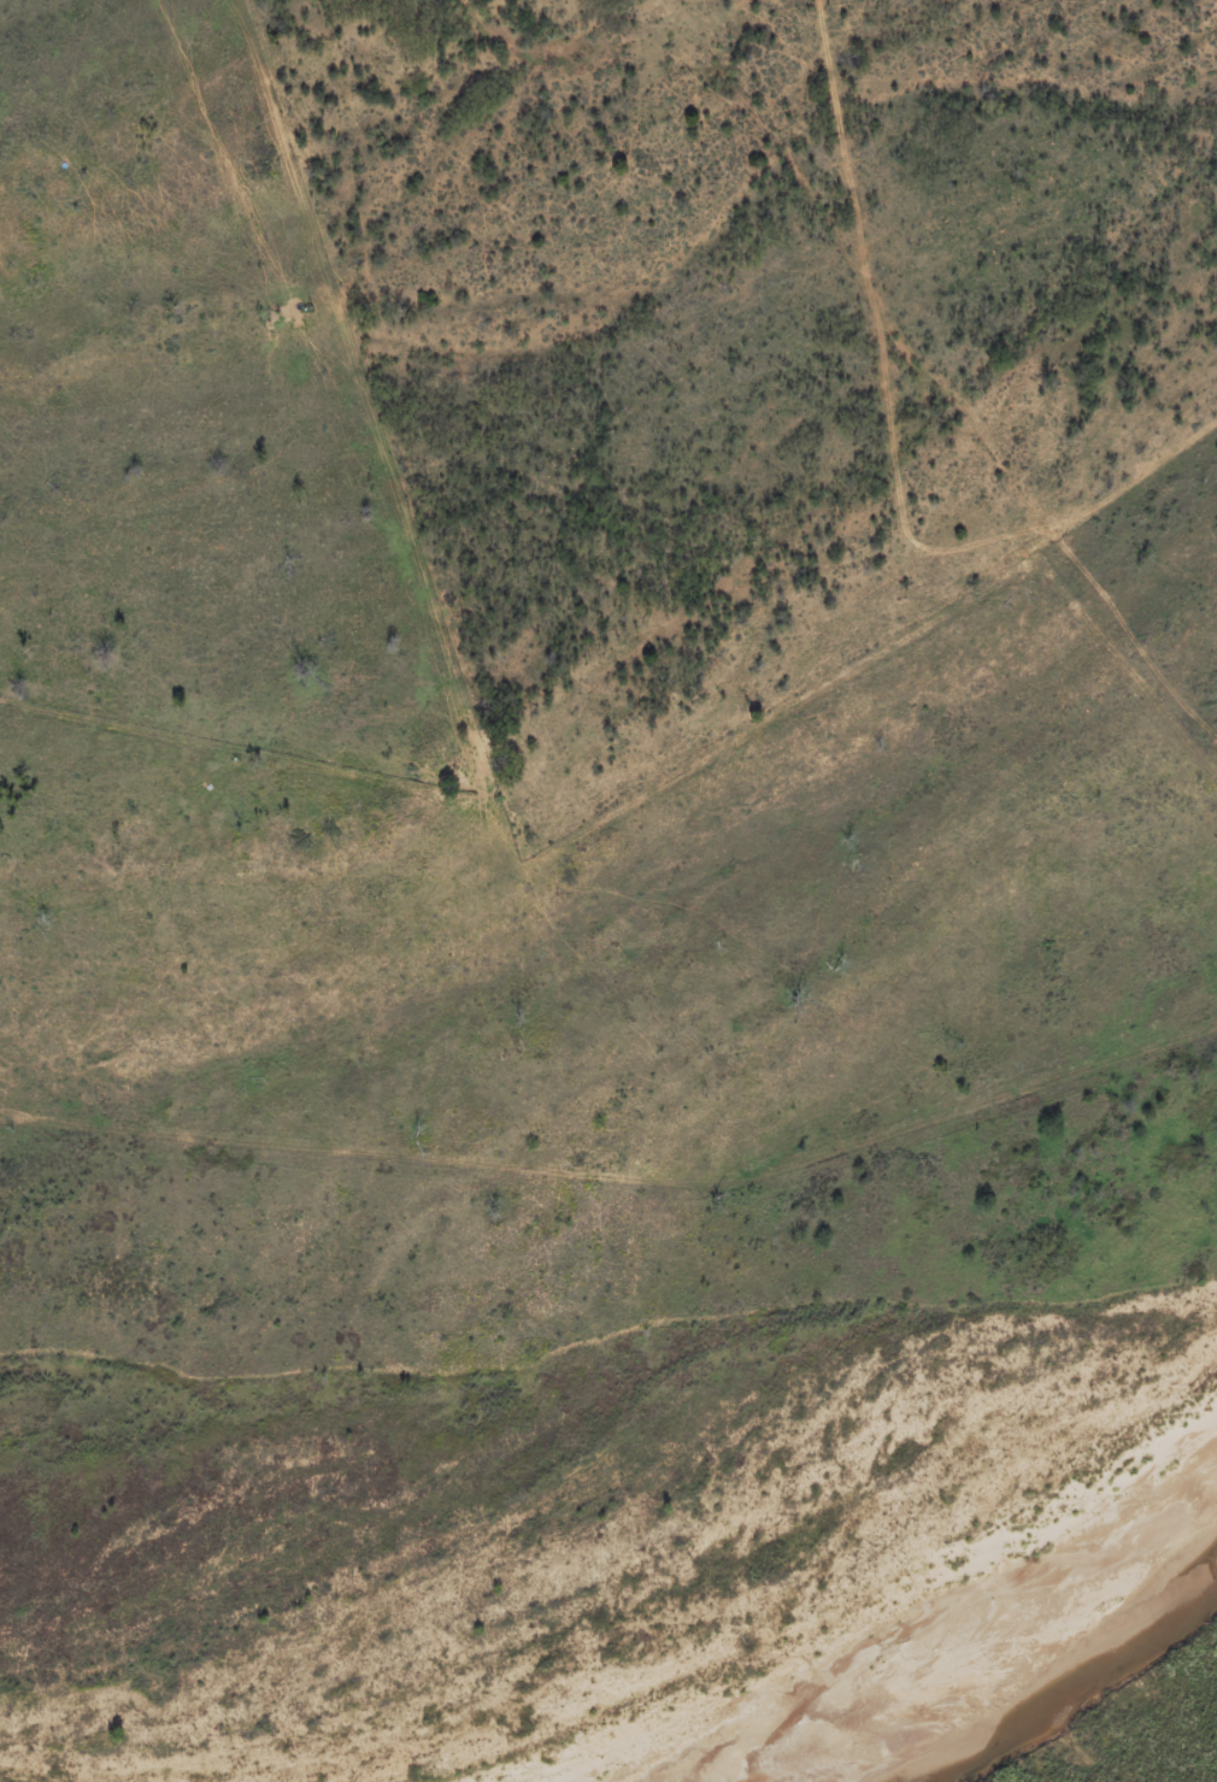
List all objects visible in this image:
road: (928, 413)
river: (957, 1621)

